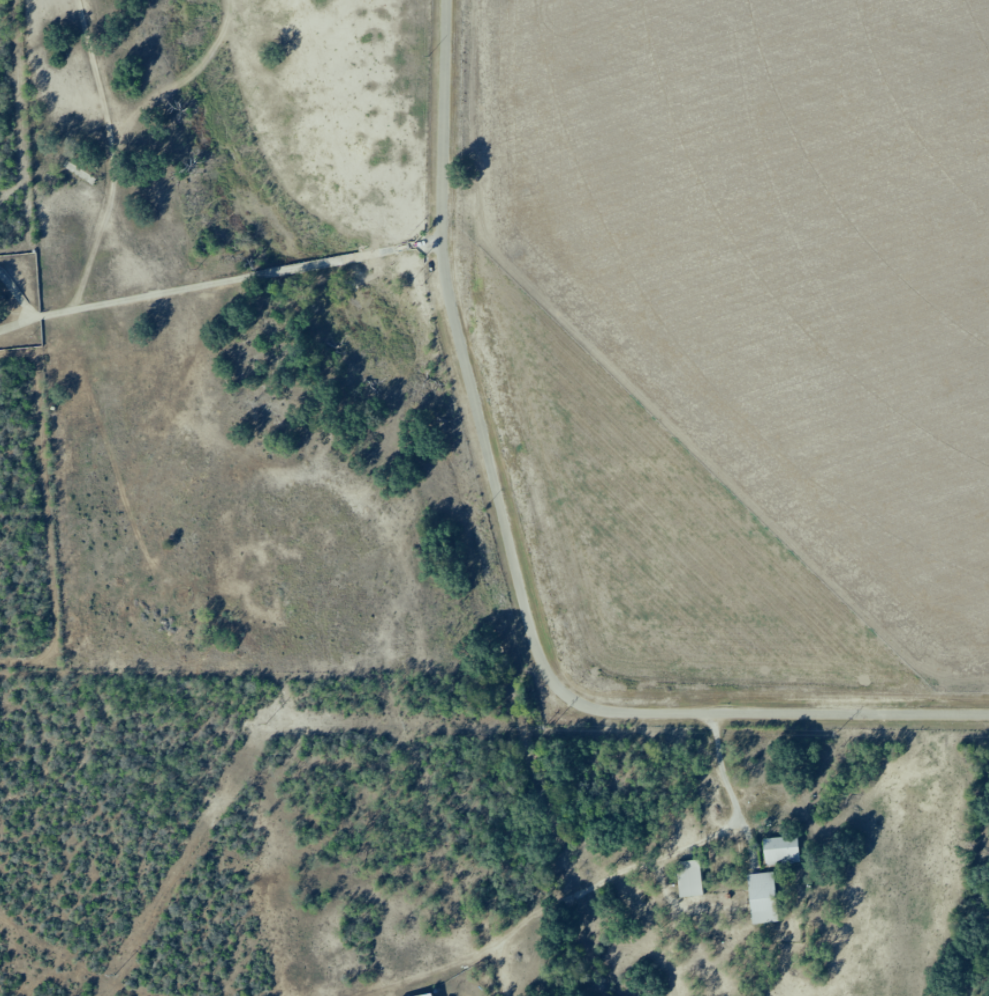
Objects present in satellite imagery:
road: (371, 133)
road: (105, 303)
road: (112, 533)
road: (514, 563)
road: (257, 590)
power tower: (266, 725)
power tower: (549, 727)
power tower: (840, 731)
road: (726, 787)
building: (782, 851)
building: (690, 879)
road: (583, 889)
building: (763, 899)
power tower: (116, 976)
building: (430, 995)

